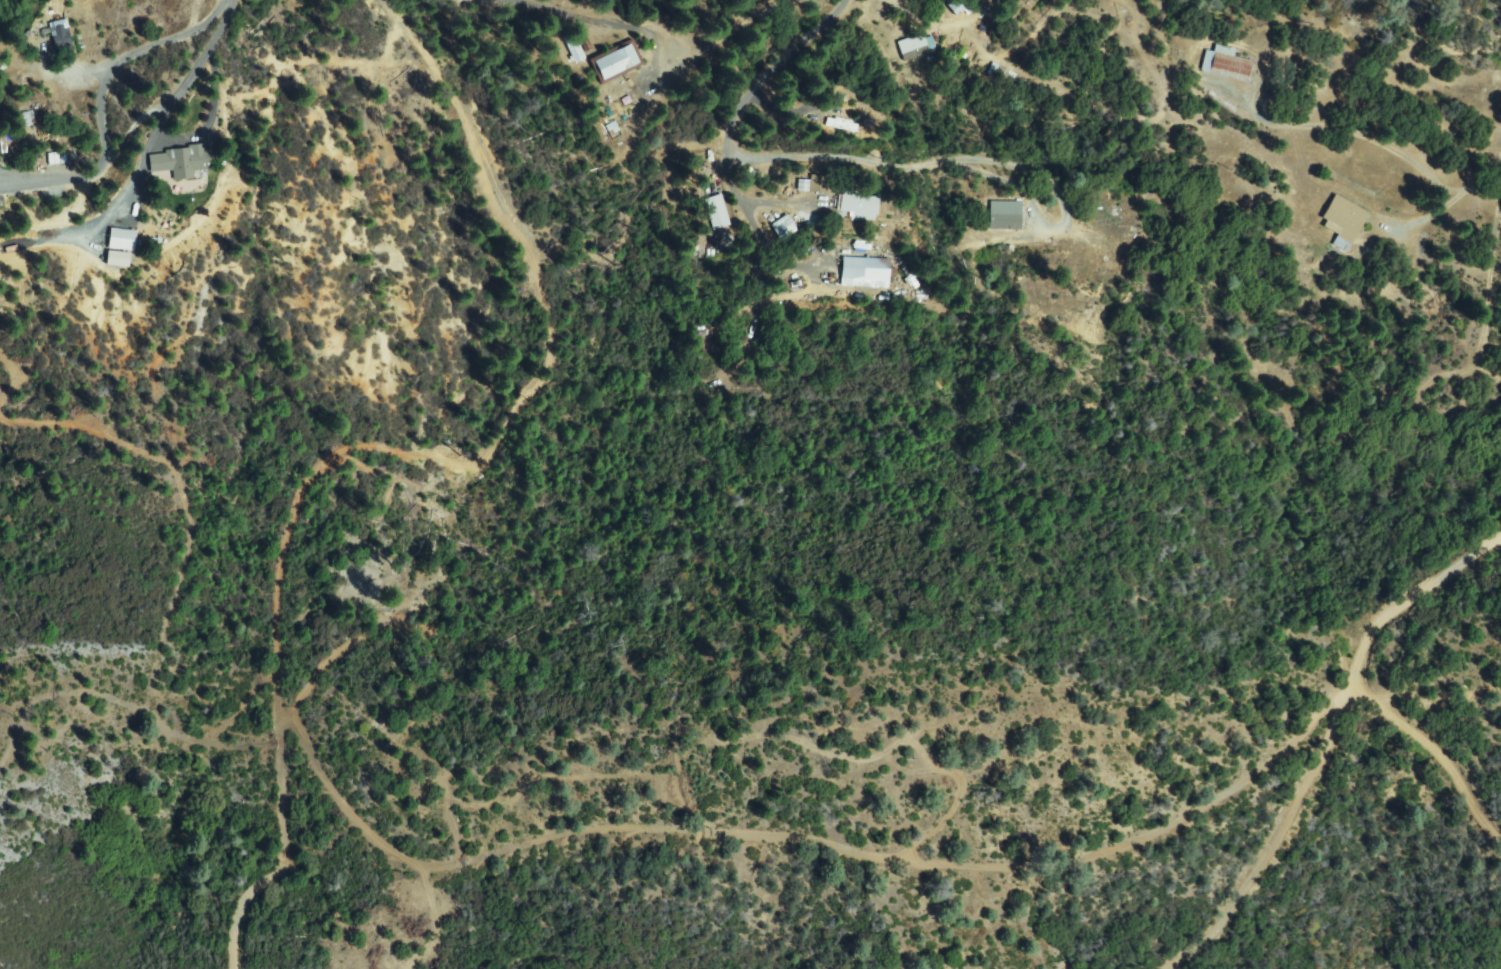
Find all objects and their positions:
road: (540, 3)
building: (960, 6)
road: (831, 10)
road: (232, 27)
building: (60, 39)
building: (916, 47)
building: (569, 51)
building: (576, 52)
building: (616, 62)
building: (1226, 65)
building: (1001, 74)
road: (753, 111)
building: (24, 120)
building: (842, 126)
road: (173, 130)
road: (1486, 161)
building: (180, 162)
building: (814, 185)
building: (859, 204)
road: (515, 209)
building: (718, 213)
building: (1005, 216)
building: (1343, 223)
building: (785, 227)
building: (122, 240)
building: (866, 273)
road: (279, 620)
road: (1373, 644)
road: (905, 861)

